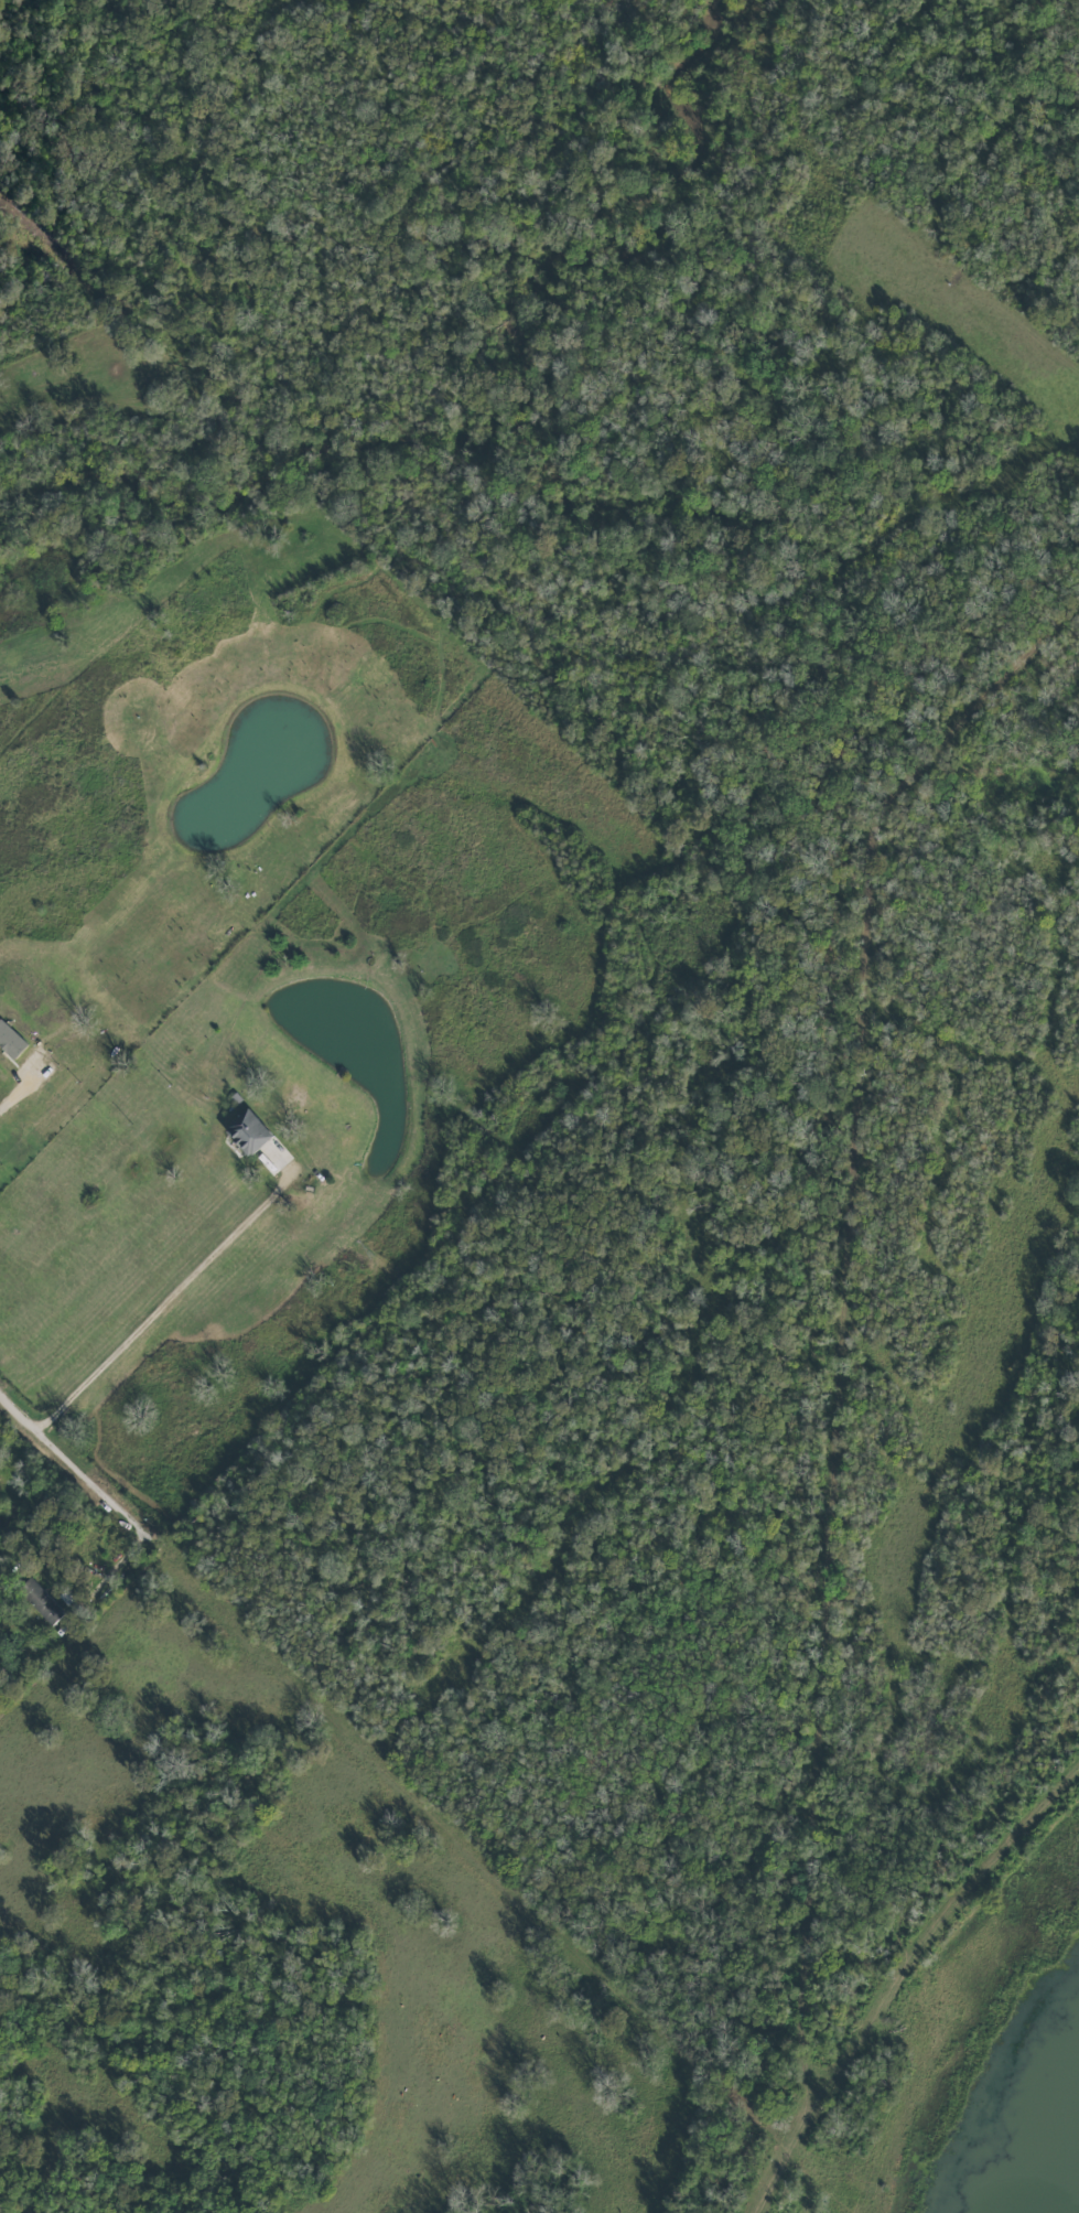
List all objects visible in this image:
building: (10, 1041)
building: (245, 1131)
road: (162, 1309)
road: (73, 1472)
road: (98, 1580)
building: (39, 1600)

